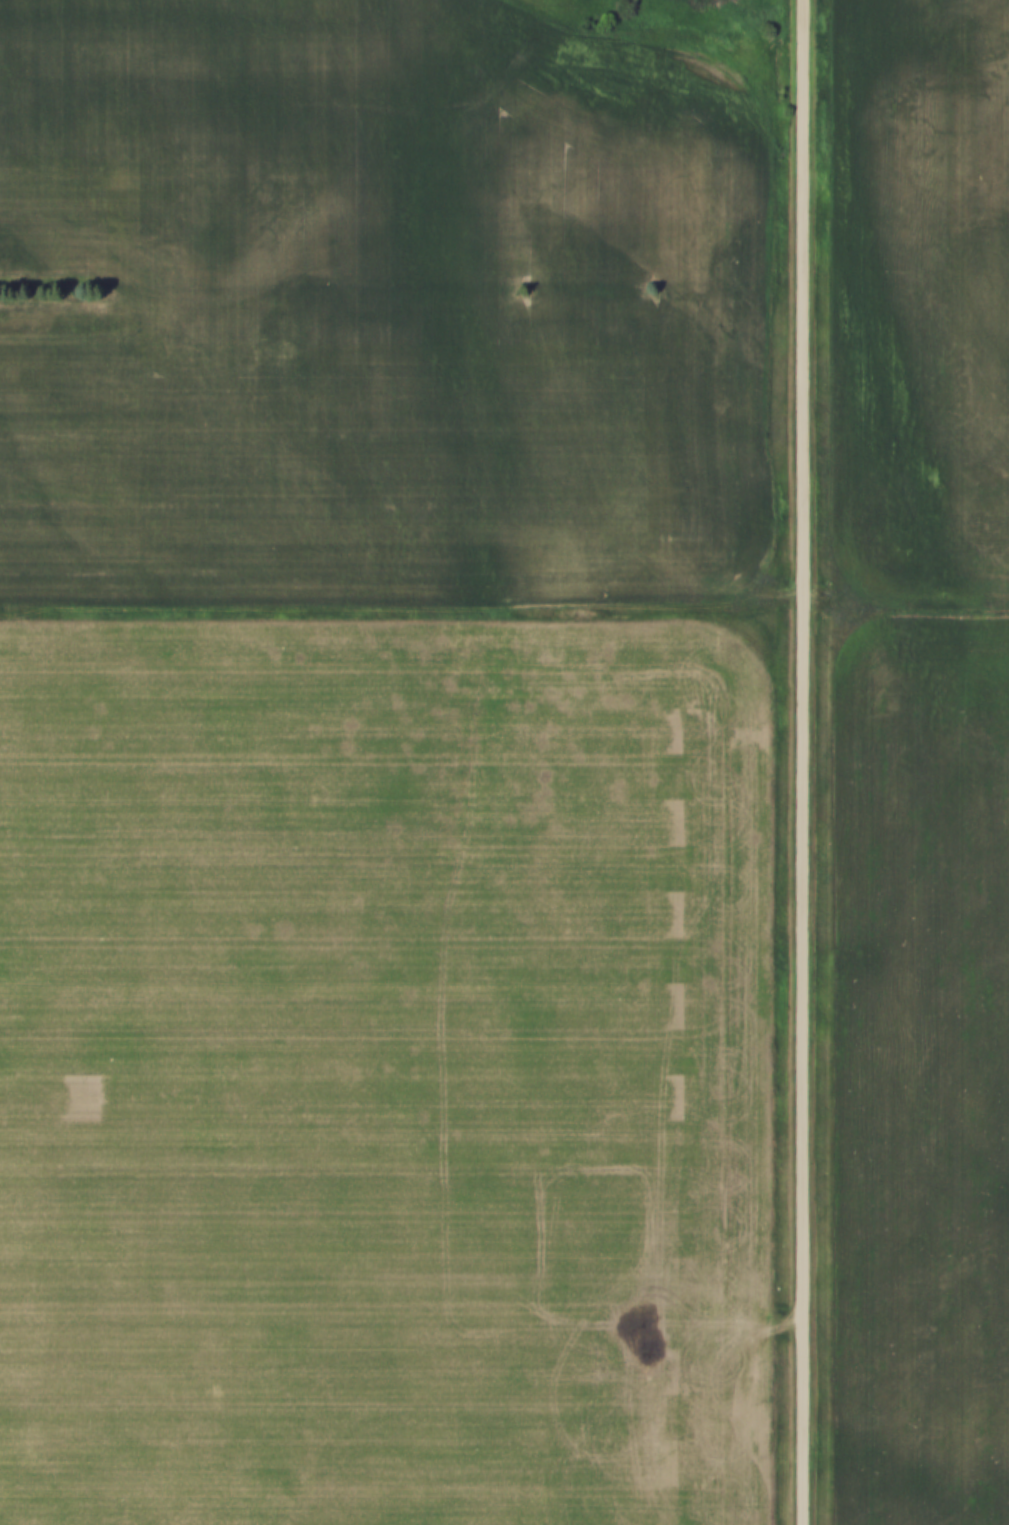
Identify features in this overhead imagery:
road: (800, 762)

